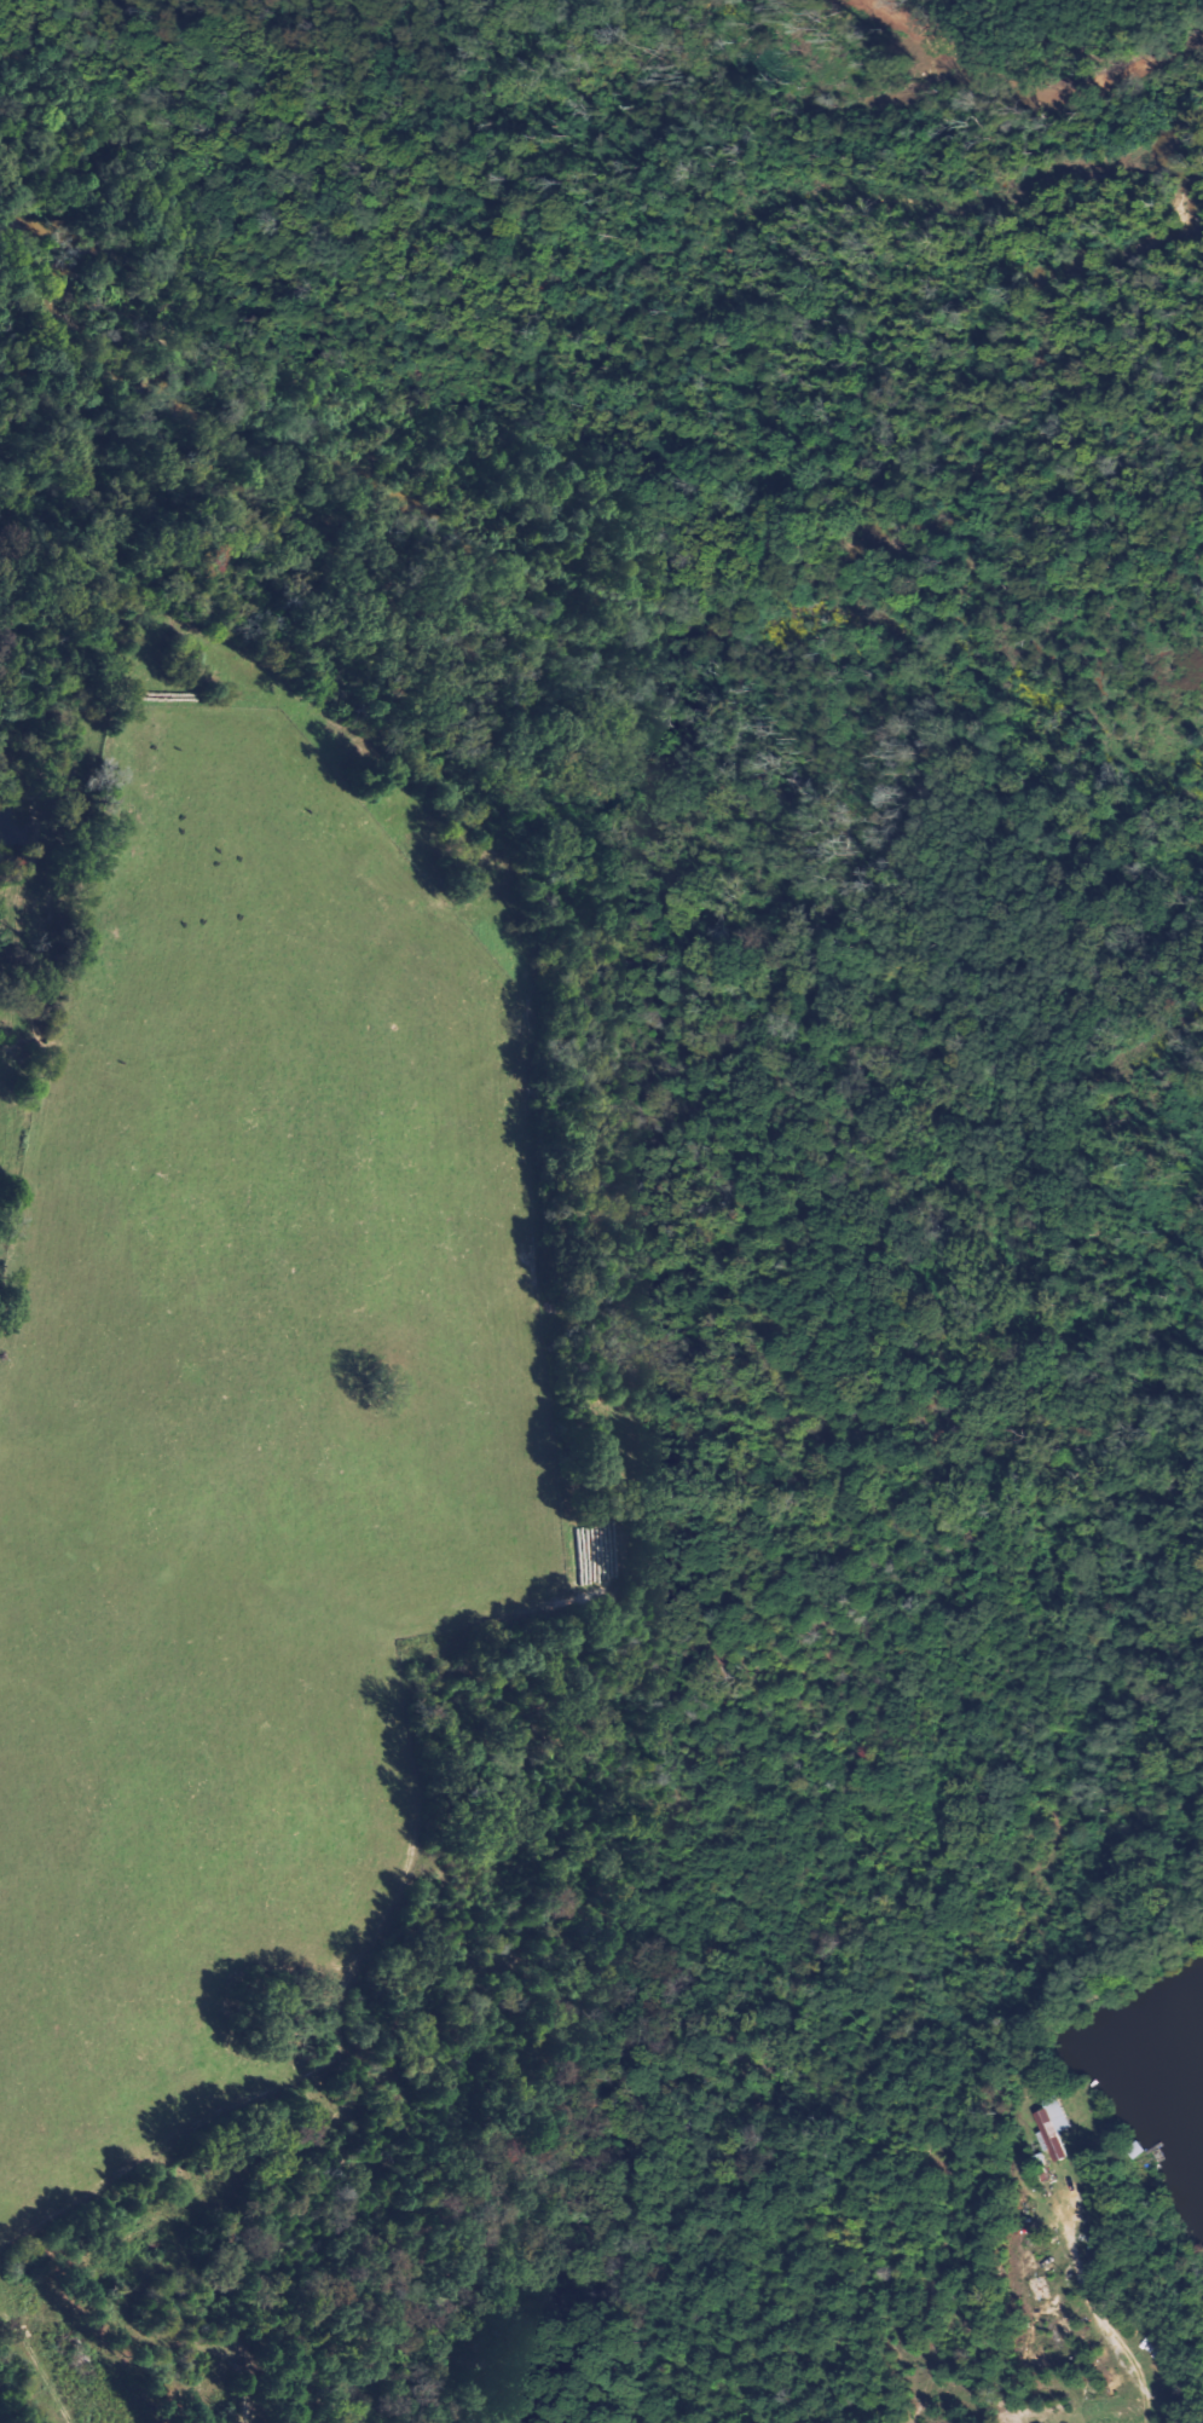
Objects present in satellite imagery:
building: (1051, 2126)
road: (1086, 2313)

